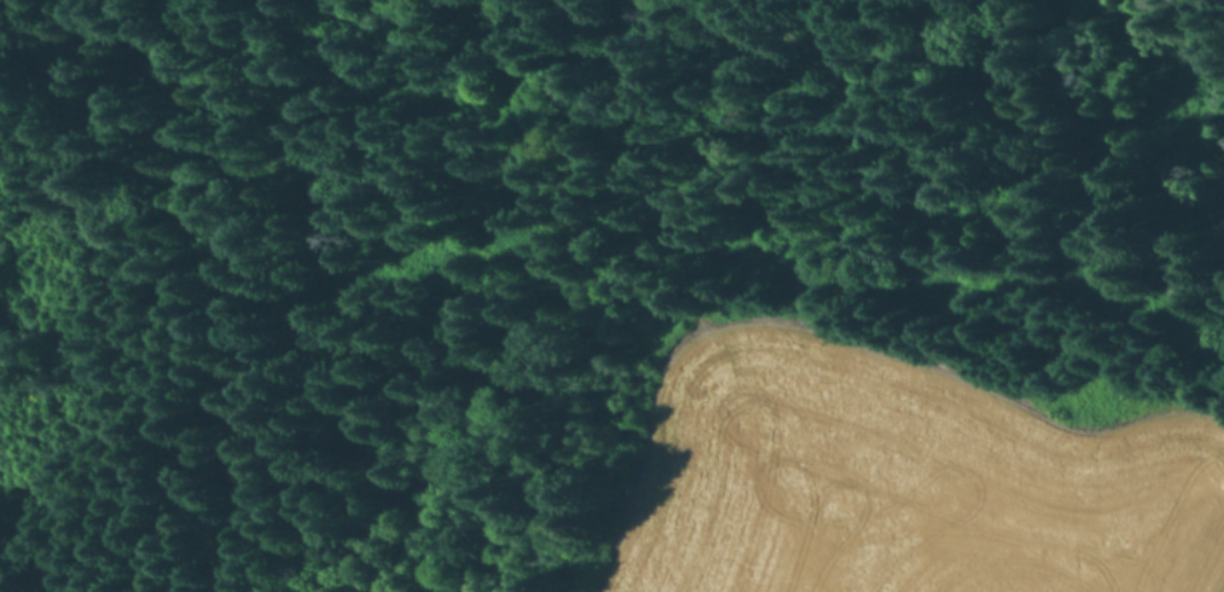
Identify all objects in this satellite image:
crop: (900, 477)

